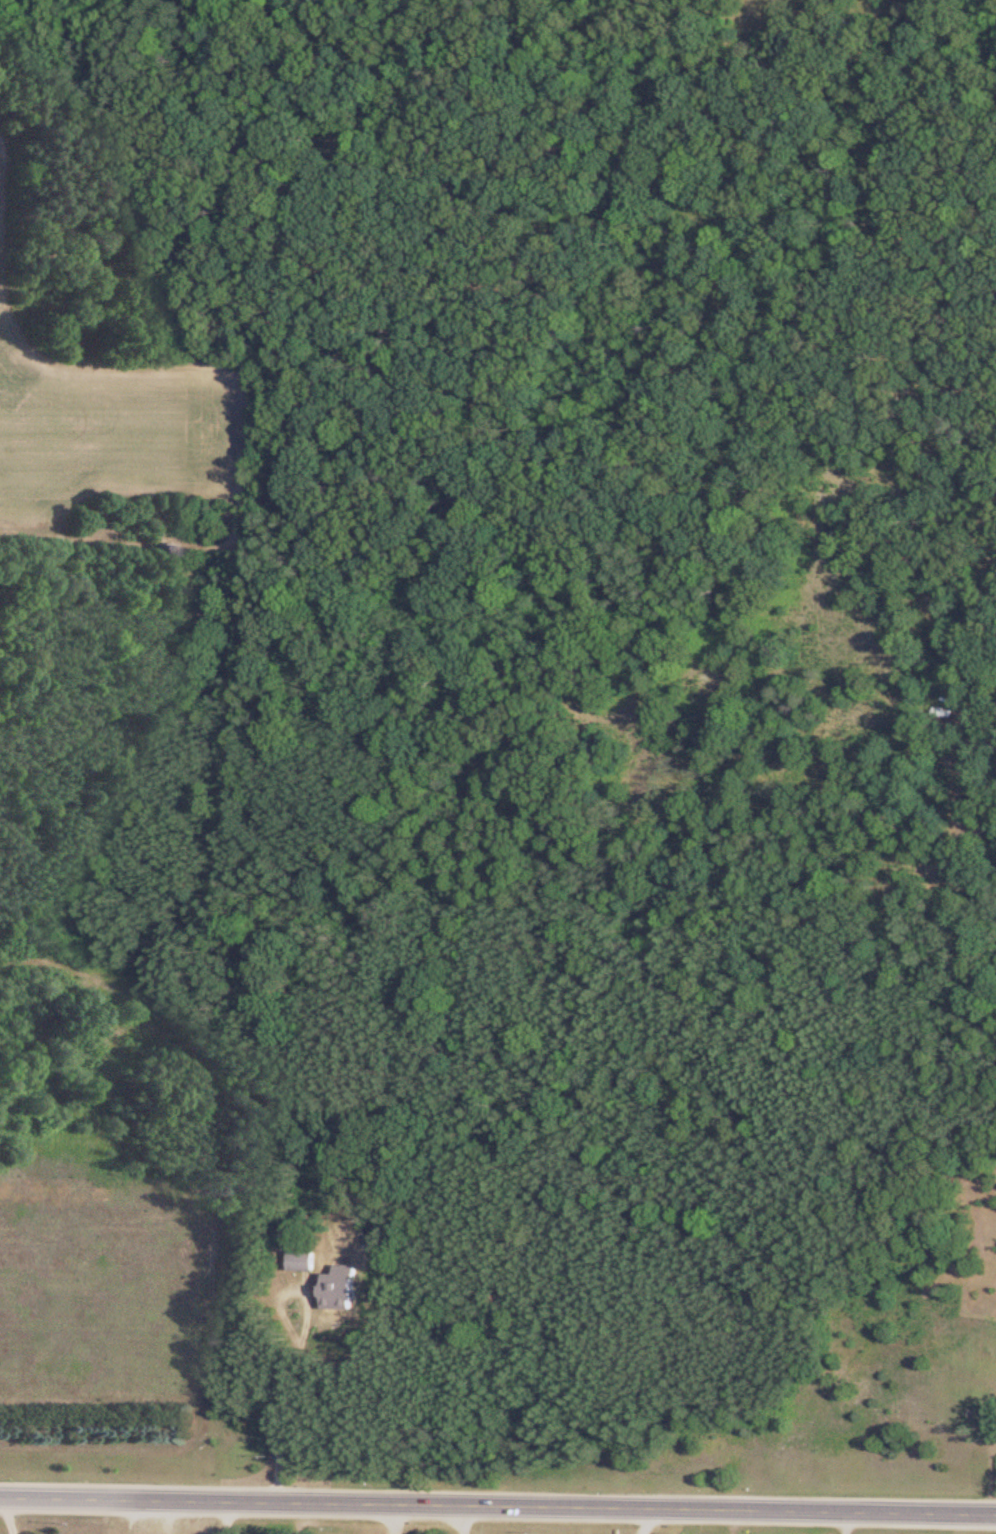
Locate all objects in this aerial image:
crop: (108, 433)
building: (302, 1260)
building: (348, 1273)
road: (498, 1505)

